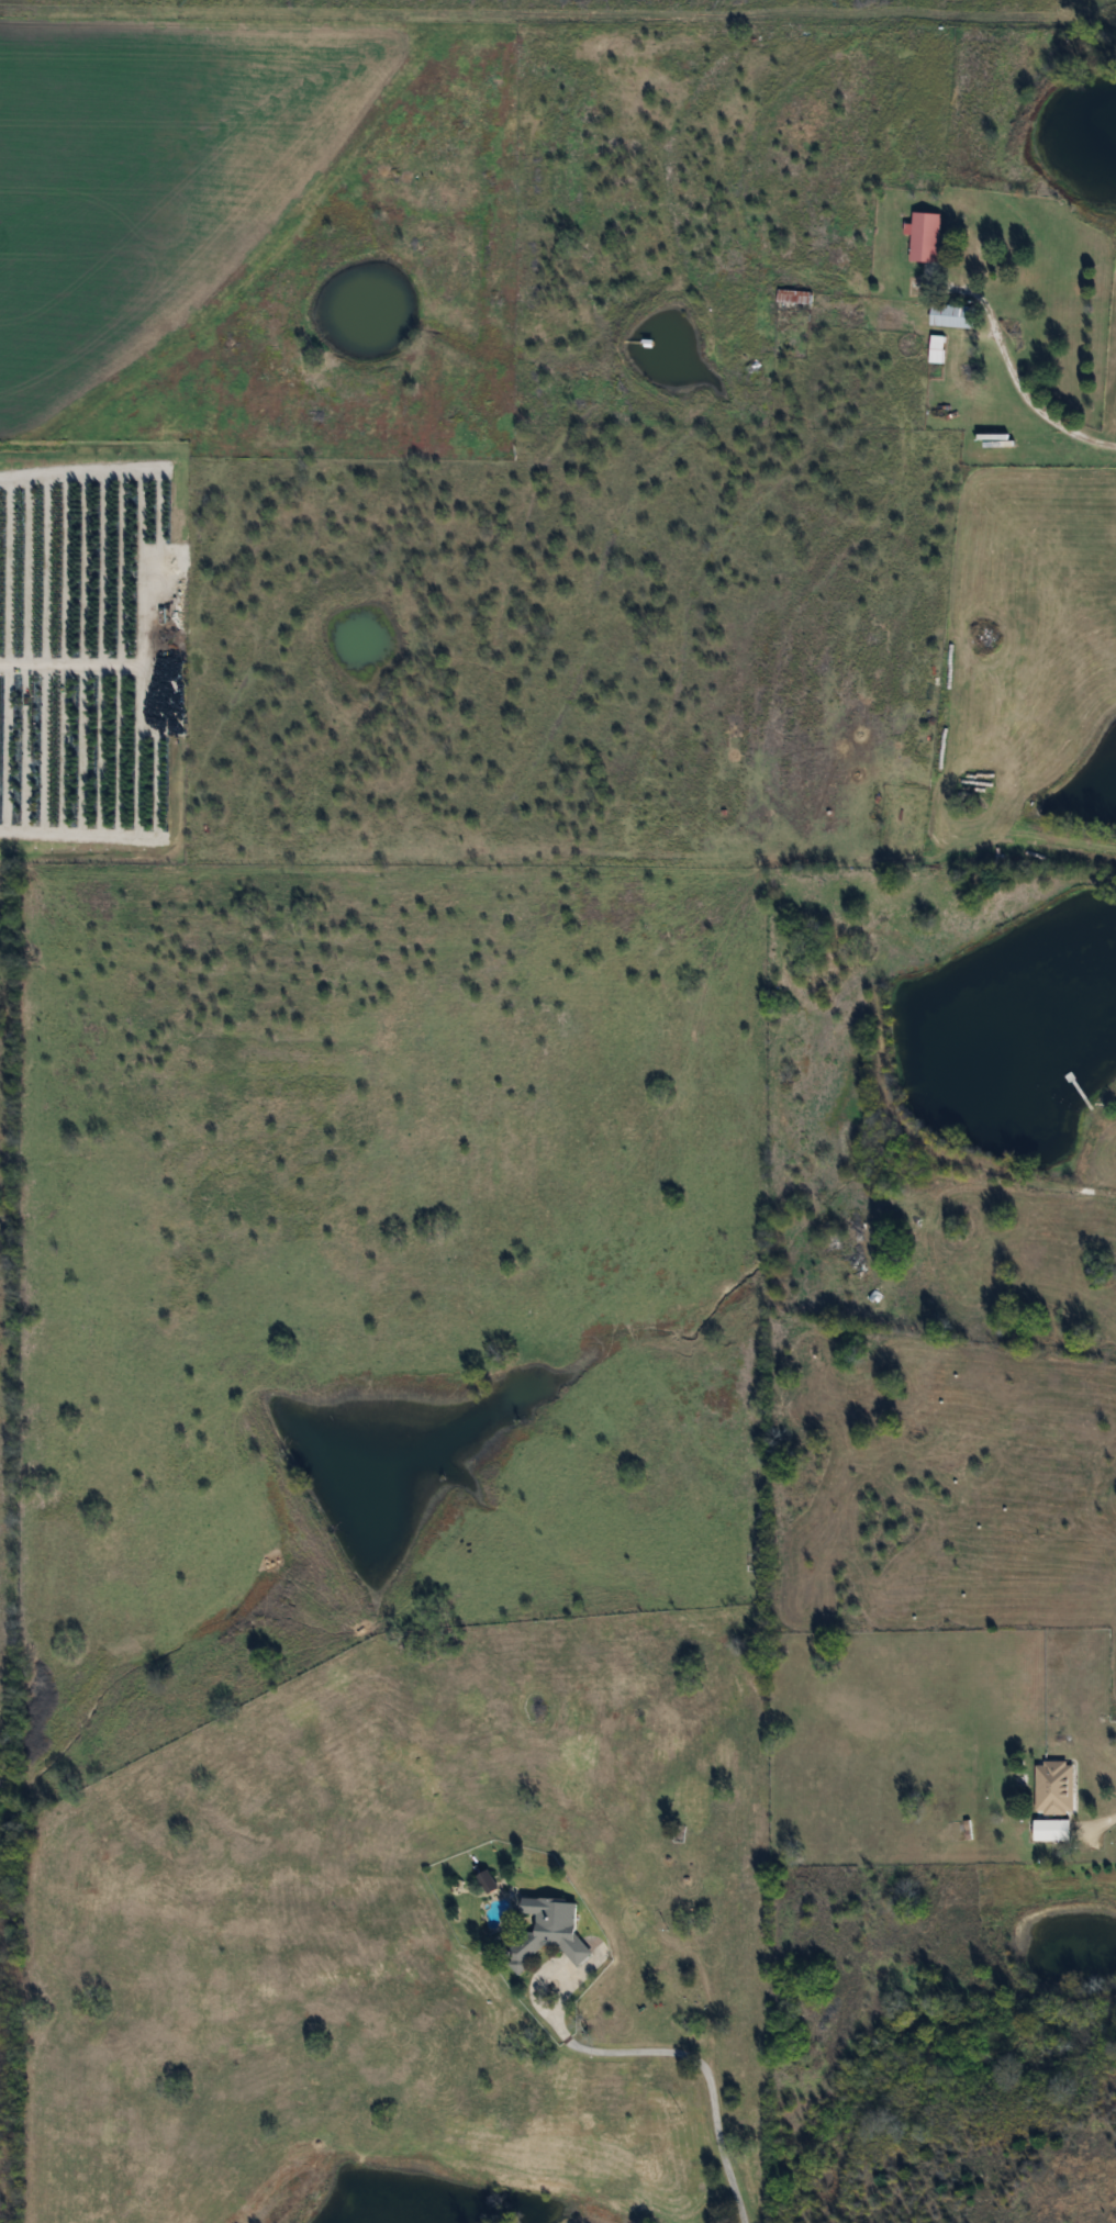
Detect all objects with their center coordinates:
building: (924, 237)
building: (950, 316)
building: (936, 349)
road: (1036, 411)
building: (1053, 1788)
road: (1107, 1818)
building: (1050, 1831)
building: (487, 1881)
building: (546, 1933)
road: (722, 2153)

